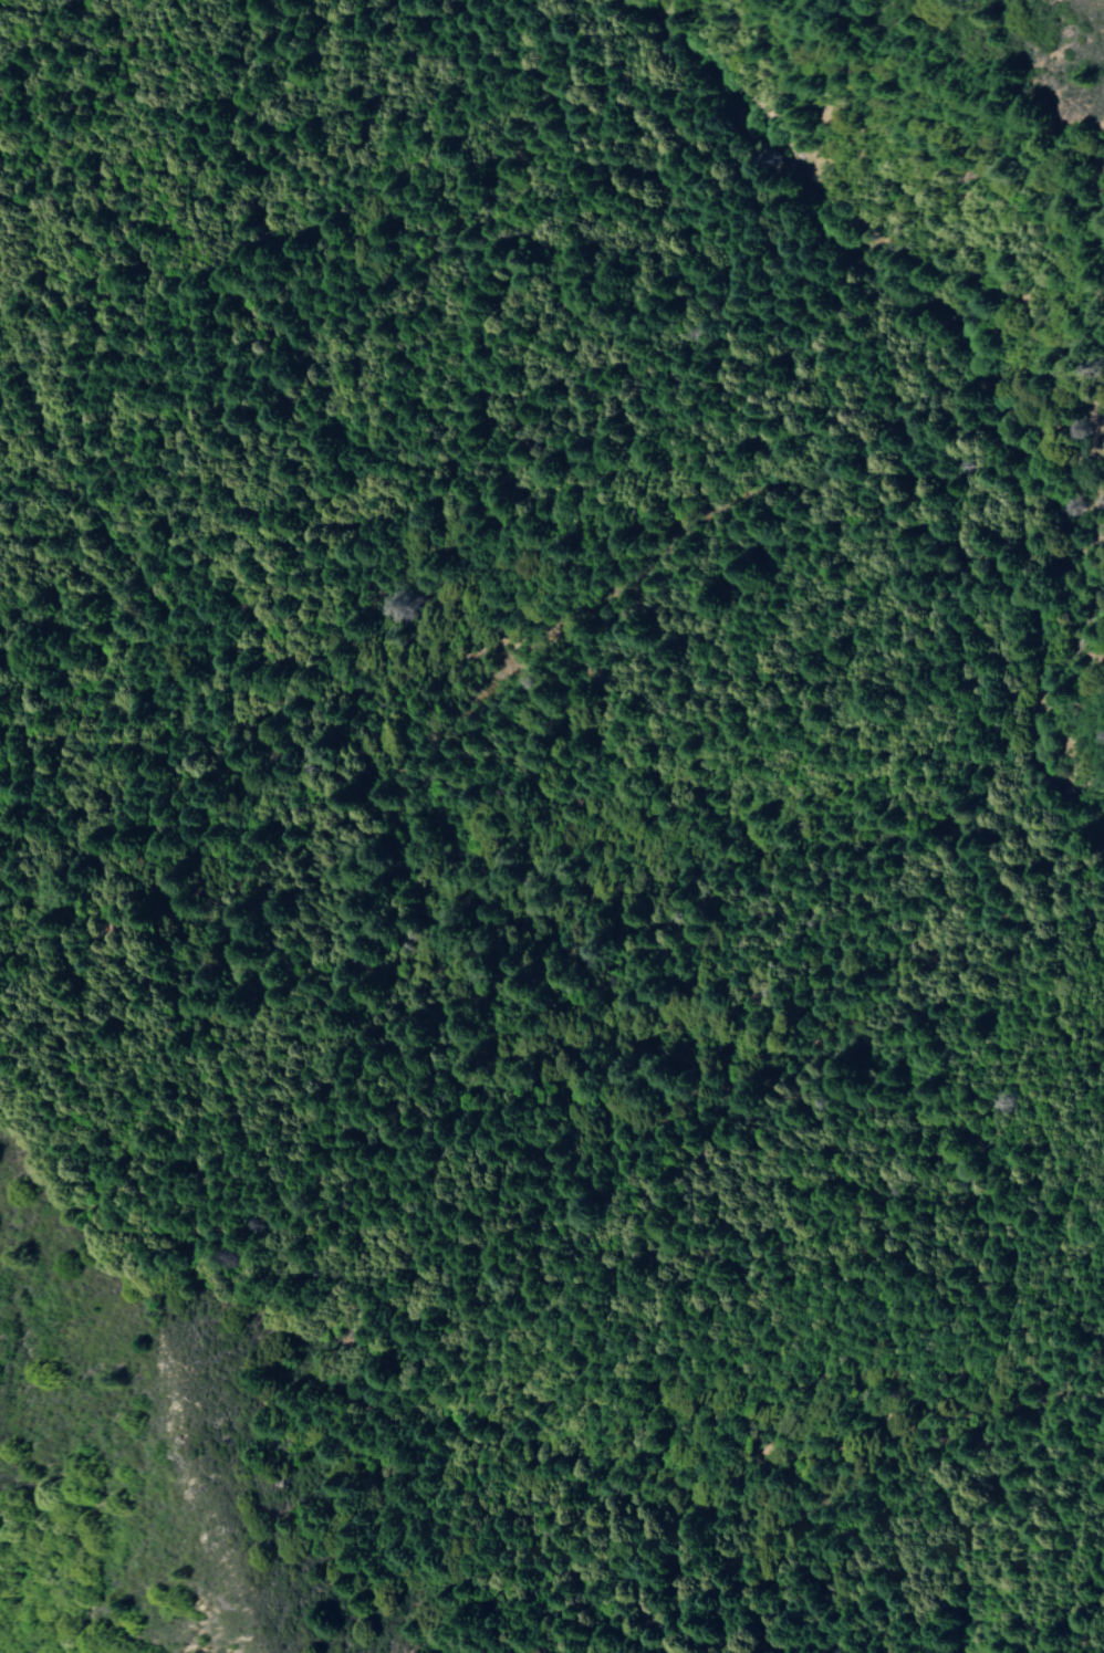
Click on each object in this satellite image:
road: (896, 432)

